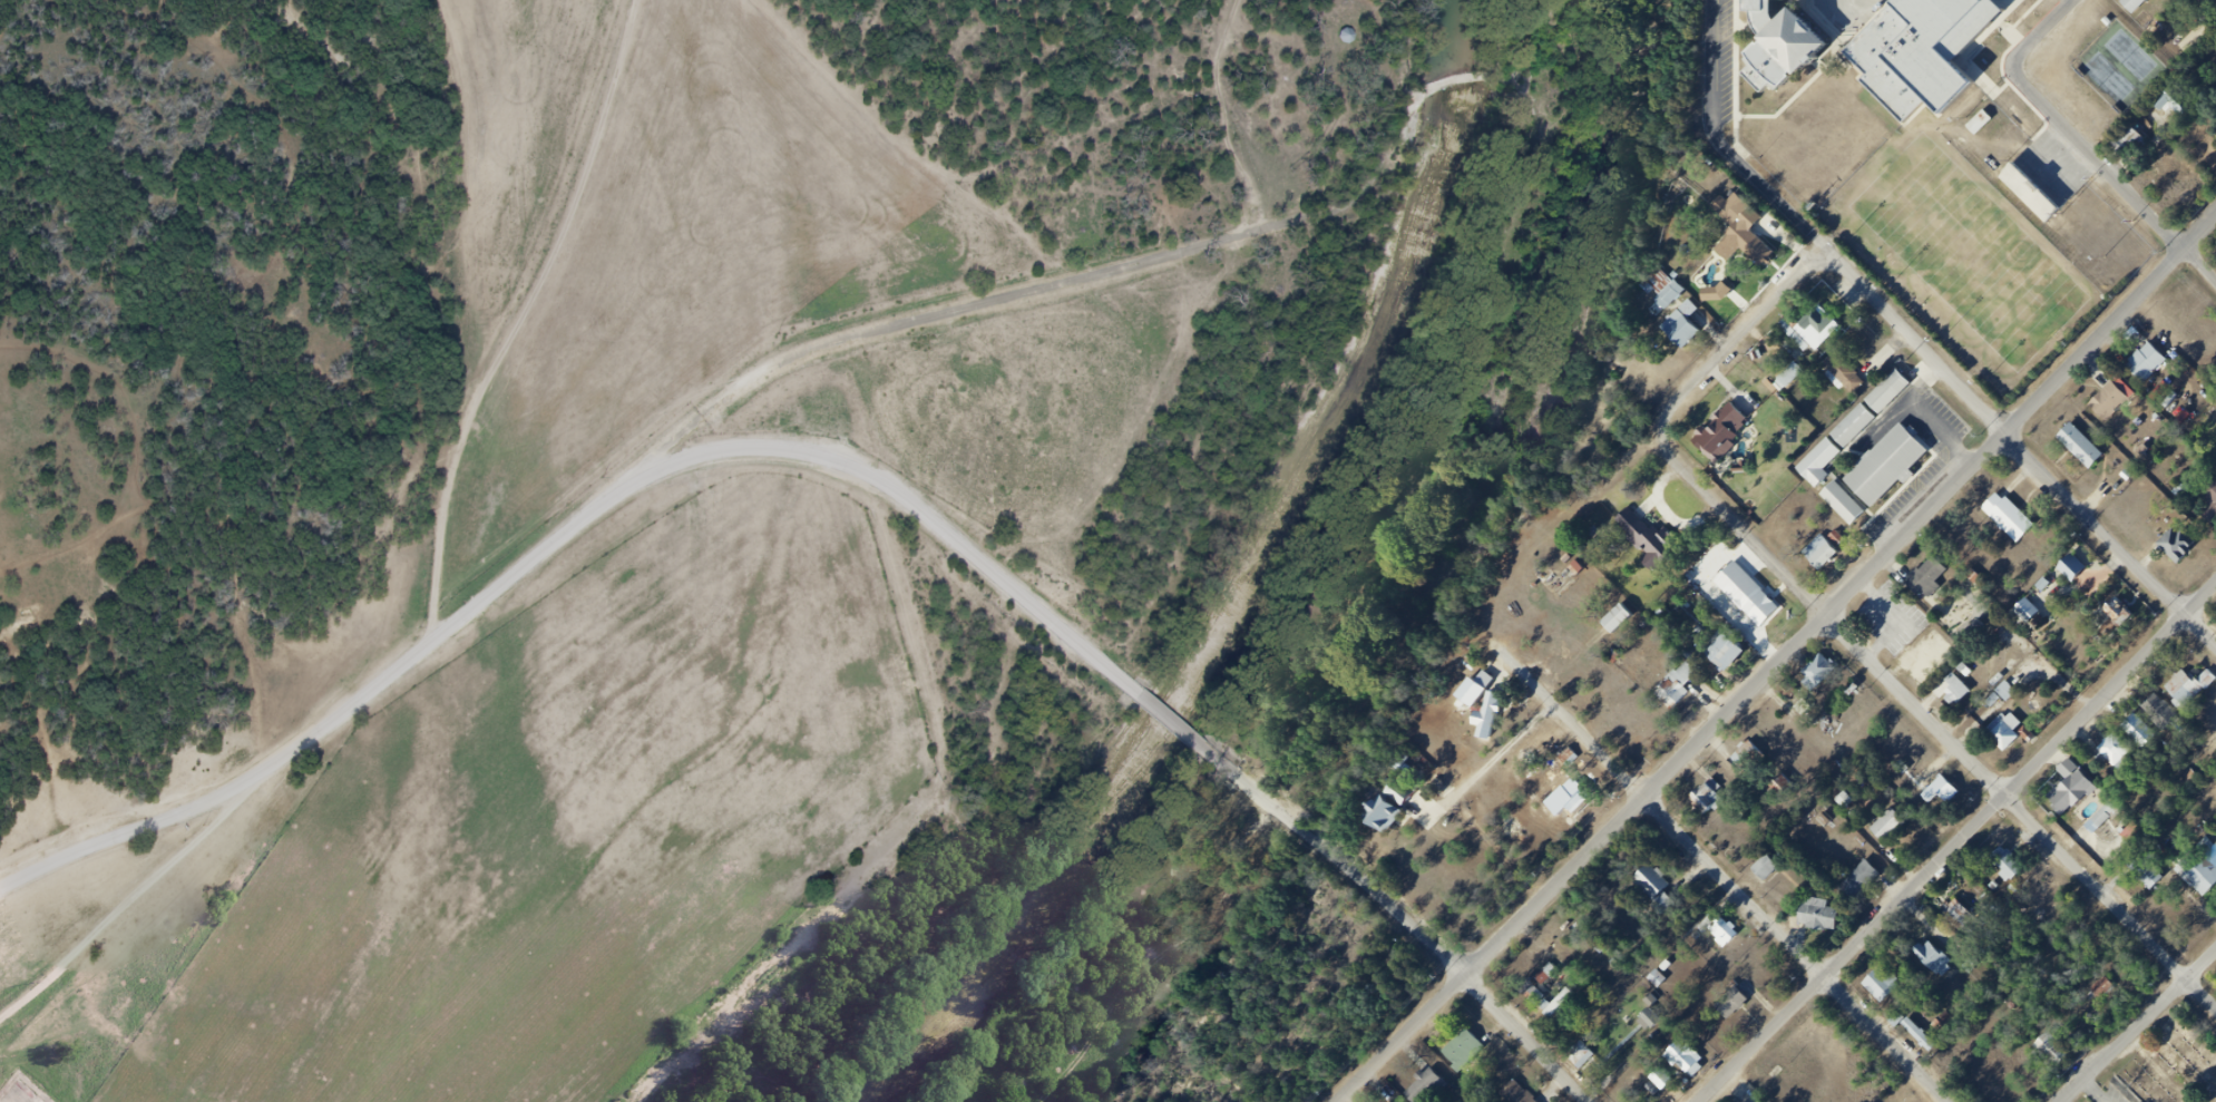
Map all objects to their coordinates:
building: (2213, 2)
building: (2141, 6)
road: (2037, 31)
building: (1347, 37)
building: (1790, 52)
building: (1927, 53)
park: (2118, 66)
building: (2159, 129)
road: (1728, 142)
building: (2129, 144)
road: (2110, 168)
building: (2021, 194)
building: (1749, 231)
park: (1969, 248)
road: (1067, 283)
building: (1665, 299)
road: (523, 308)
building: (1689, 326)
building: (1818, 329)
road: (1732, 342)
building: (2151, 369)
building: (1852, 373)
building: (1796, 379)
building: (2115, 407)
building: (1730, 436)
road: (2019, 442)
building: (2088, 450)
building: (1873, 462)
building: (2215, 501)
building: (2015, 520)
building: (2213, 521)
road: (564, 533)
building: (1659, 543)
building: (2183, 553)
building: (1829, 556)
building: (2071, 567)
building: (2081, 574)
building: (1975, 578)
building: (1933, 579)
river: (1243, 592)
building: (1754, 598)
building: (2127, 616)
building: (1615, 618)
building: (2036, 620)
building: (1626, 625)
building: (1734, 657)
road: (1780, 663)
building: (1816, 672)
building: (1826, 675)
building: (1688, 686)
building: (2004, 689)
building: (2195, 691)
building: (1964, 693)
building: (2008, 700)
building: (1490, 715)
building: (2168, 716)
road: (1173, 718)
building: (1497, 720)
road: (1936, 728)
building: (2146, 738)
building: (2011, 739)
building: (2122, 757)
building: (1751, 758)
road: (1491, 762)
building: (1951, 793)
building: (2076, 799)
building: (1710, 800)
building: (1584, 803)
building: (1399, 810)
building: (1382, 815)
building: (2112, 820)
building: (2130, 831)
building: (1896, 832)
road: (1958, 845)
road: (1344, 860)
building: (1771, 868)
building: (2015, 869)
building: (2204, 872)
road: (1726, 875)
building: (2151, 877)
building: (1865, 884)
building: (1662, 890)
road: (134, 906)
building: (1965, 918)
building: (1828, 919)
building: (1729, 930)
building: (1940, 965)
building: (1656, 977)
building: (1665, 979)
building: (1888, 991)
building: (1534, 995)
building: (2107, 995)
building: (1546, 1001)
building: (1739, 1006)
building: (1658, 1017)
road: (2141, 1028)
road: (1535, 1037)
building: (1924, 1041)
building: (1470, 1047)
building: (2058, 1056)
building: (1587, 1059)
building: (1695, 1063)
building: (1658, 1075)
building: (1433, 1086)
building: (1524, 1094)
parking lot: (2109, 1096)

